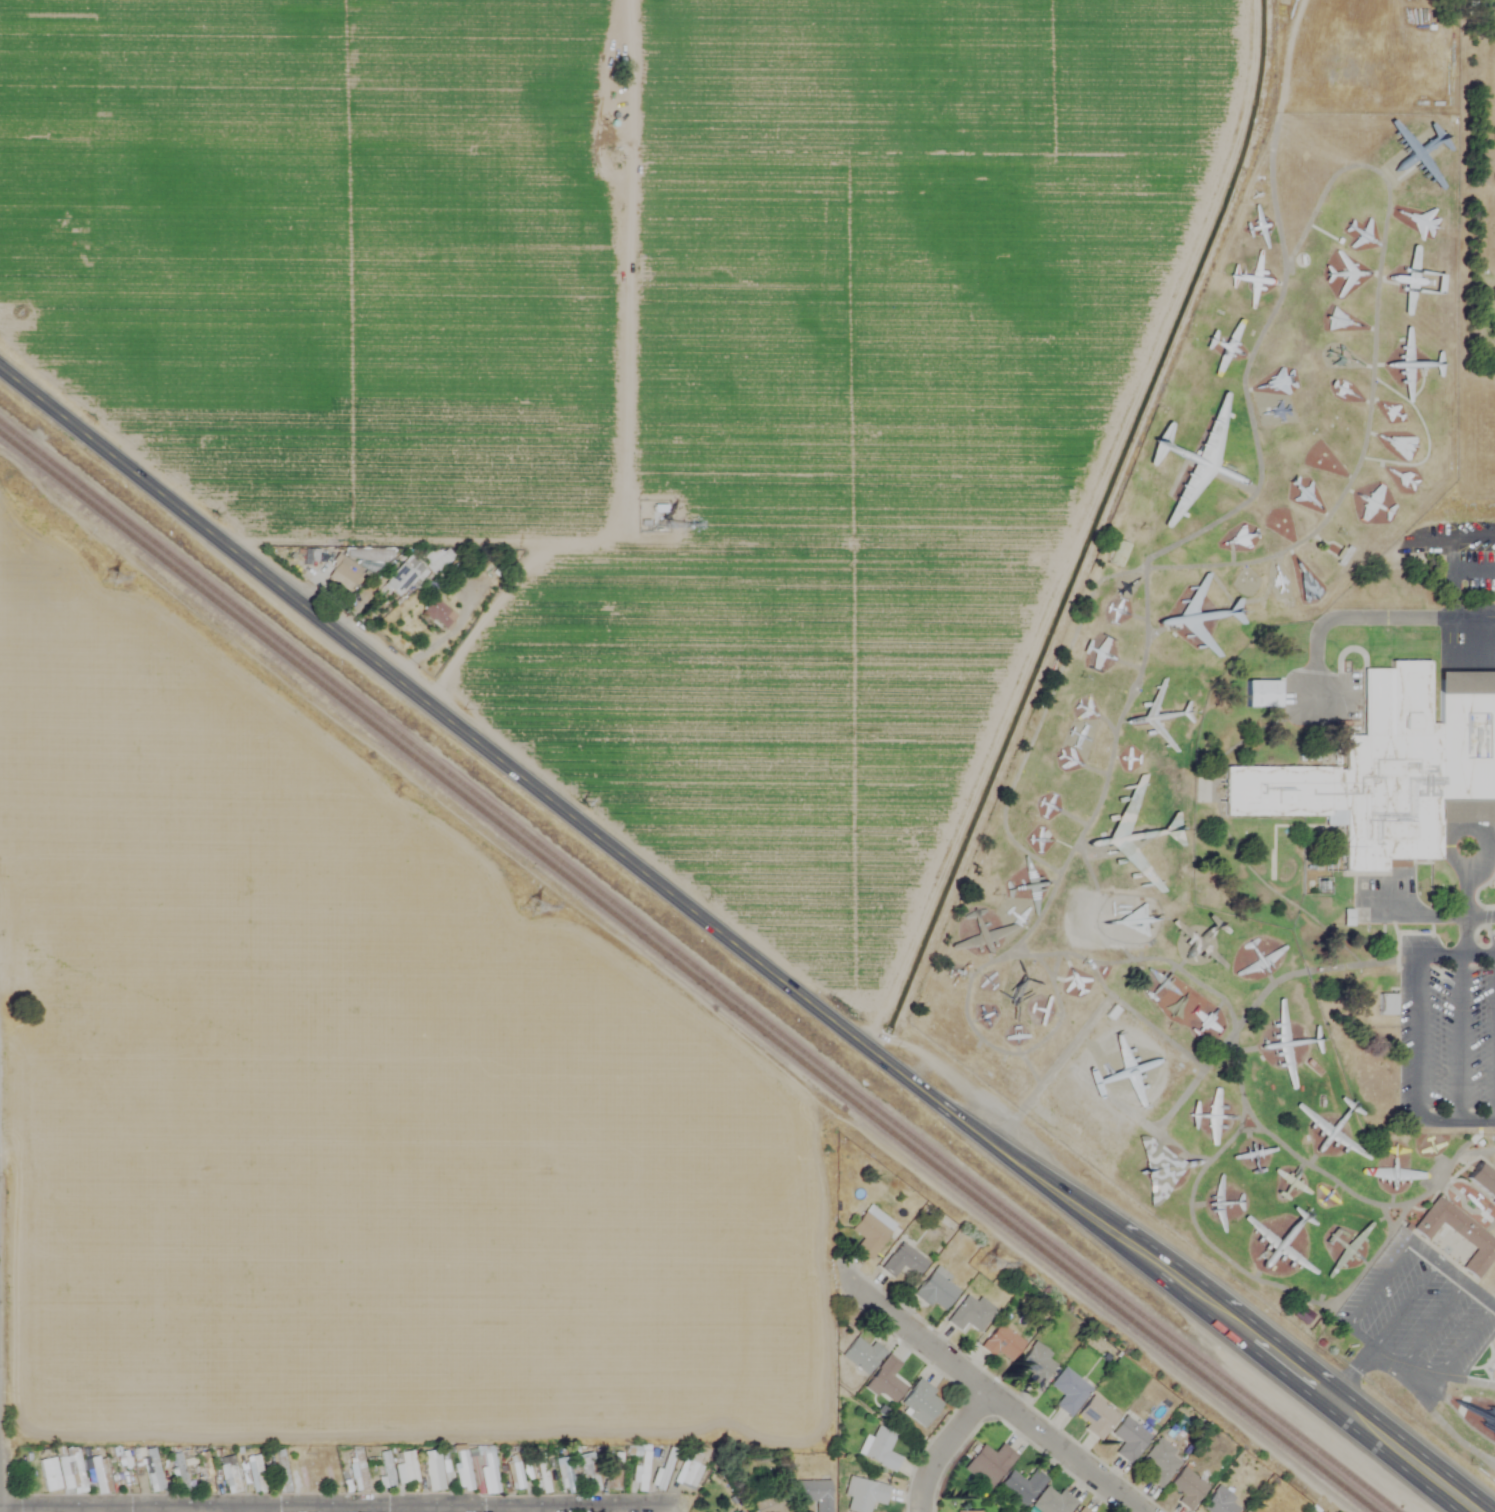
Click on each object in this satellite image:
crop: (645, 356)
building: (655, 520)
road: (1204, 522)
building: (1342, 554)
building: (342, 573)
road: (1455, 573)
building: (402, 577)
power tower: (111, 578)
road: (1270, 580)
building: (438, 614)
road: (1372, 614)
building: (1261, 691)
building: (1392, 770)
road: (566, 811)
road: (1481, 839)
building: (1311, 886)
power tower: (534, 912)
road: (1427, 915)
building: (1347, 917)
building: (986, 931)
road: (1465, 936)
road: (1078, 950)
road: (1456, 956)
railway: (697, 966)
railway: (686, 973)
building: (1386, 1003)
road: (966, 1016)
building: (1203, 1020)
road: (1157, 1031)
parking lot: (1446, 1032)
road: (1418, 1038)
road: (1457, 1038)
building: (1090, 1068)
building: (1125, 1073)
crop: (337, 1100)
road: (1456, 1120)
building: (1162, 1170)
building: (1483, 1180)
building: (870, 1231)
building: (1457, 1234)
building: (903, 1262)
power tower: (992, 1263)
road: (1253, 1269)
road: (1378, 1284)
building: (936, 1291)
road: (1406, 1304)
building: (970, 1314)
parking lot: (1416, 1317)
road: (1473, 1324)
road: (1424, 1335)
building: (1001, 1343)
building: (862, 1356)
building: (1037, 1366)
road: (1354, 1373)
building: (886, 1380)
road: (1306, 1380)
building: (1068, 1391)
road: (989, 1394)
building: (920, 1404)
building: (1481, 1415)
building: (1096, 1417)
building: (1129, 1439)
building: (880, 1448)
road: (946, 1448)
building: (991, 1461)
building: (1161, 1463)
building: (385, 1469)
building: (405, 1469)
building: (433, 1469)
building: (486, 1469)
building: (662, 1469)
building: (153, 1470)
building: (359, 1470)
building: (280, 1471)
building: (462, 1471)
building: (615, 1471)
building: (204, 1472)
building: (688, 1472)
building: (178, 1473)
building: (540, 1473)
building: (588, 1473)
building: (639, 1473)
building: (331, 1474)
building: (48, 1475)
building: (100, 1475)
building: (228, 1475)
building: (254, 1475)
building: (305, 1475)
building: (564, 1478)
building: (1022, 1486)
building: (1187, 1489)
building: (814, 1494)
building: (864, 1495)
building: (770, 1501)
building: (1055, 1502)
building: (1220, 1503)
road: (322, 1506)
road: (540, 1508)
road: (228, 1509)
road: (328, 1509)
road: (434, 1509)
road: (0, 1510)
building: (1082, 1510)
building: (738, 1511)
building: (968, 1511)
building: (1246, 1511)

